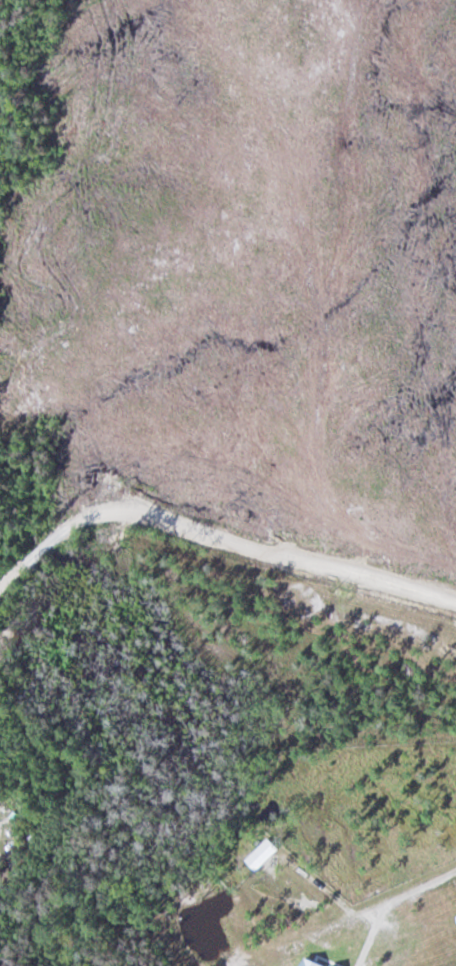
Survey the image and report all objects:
road: (217, 534)

